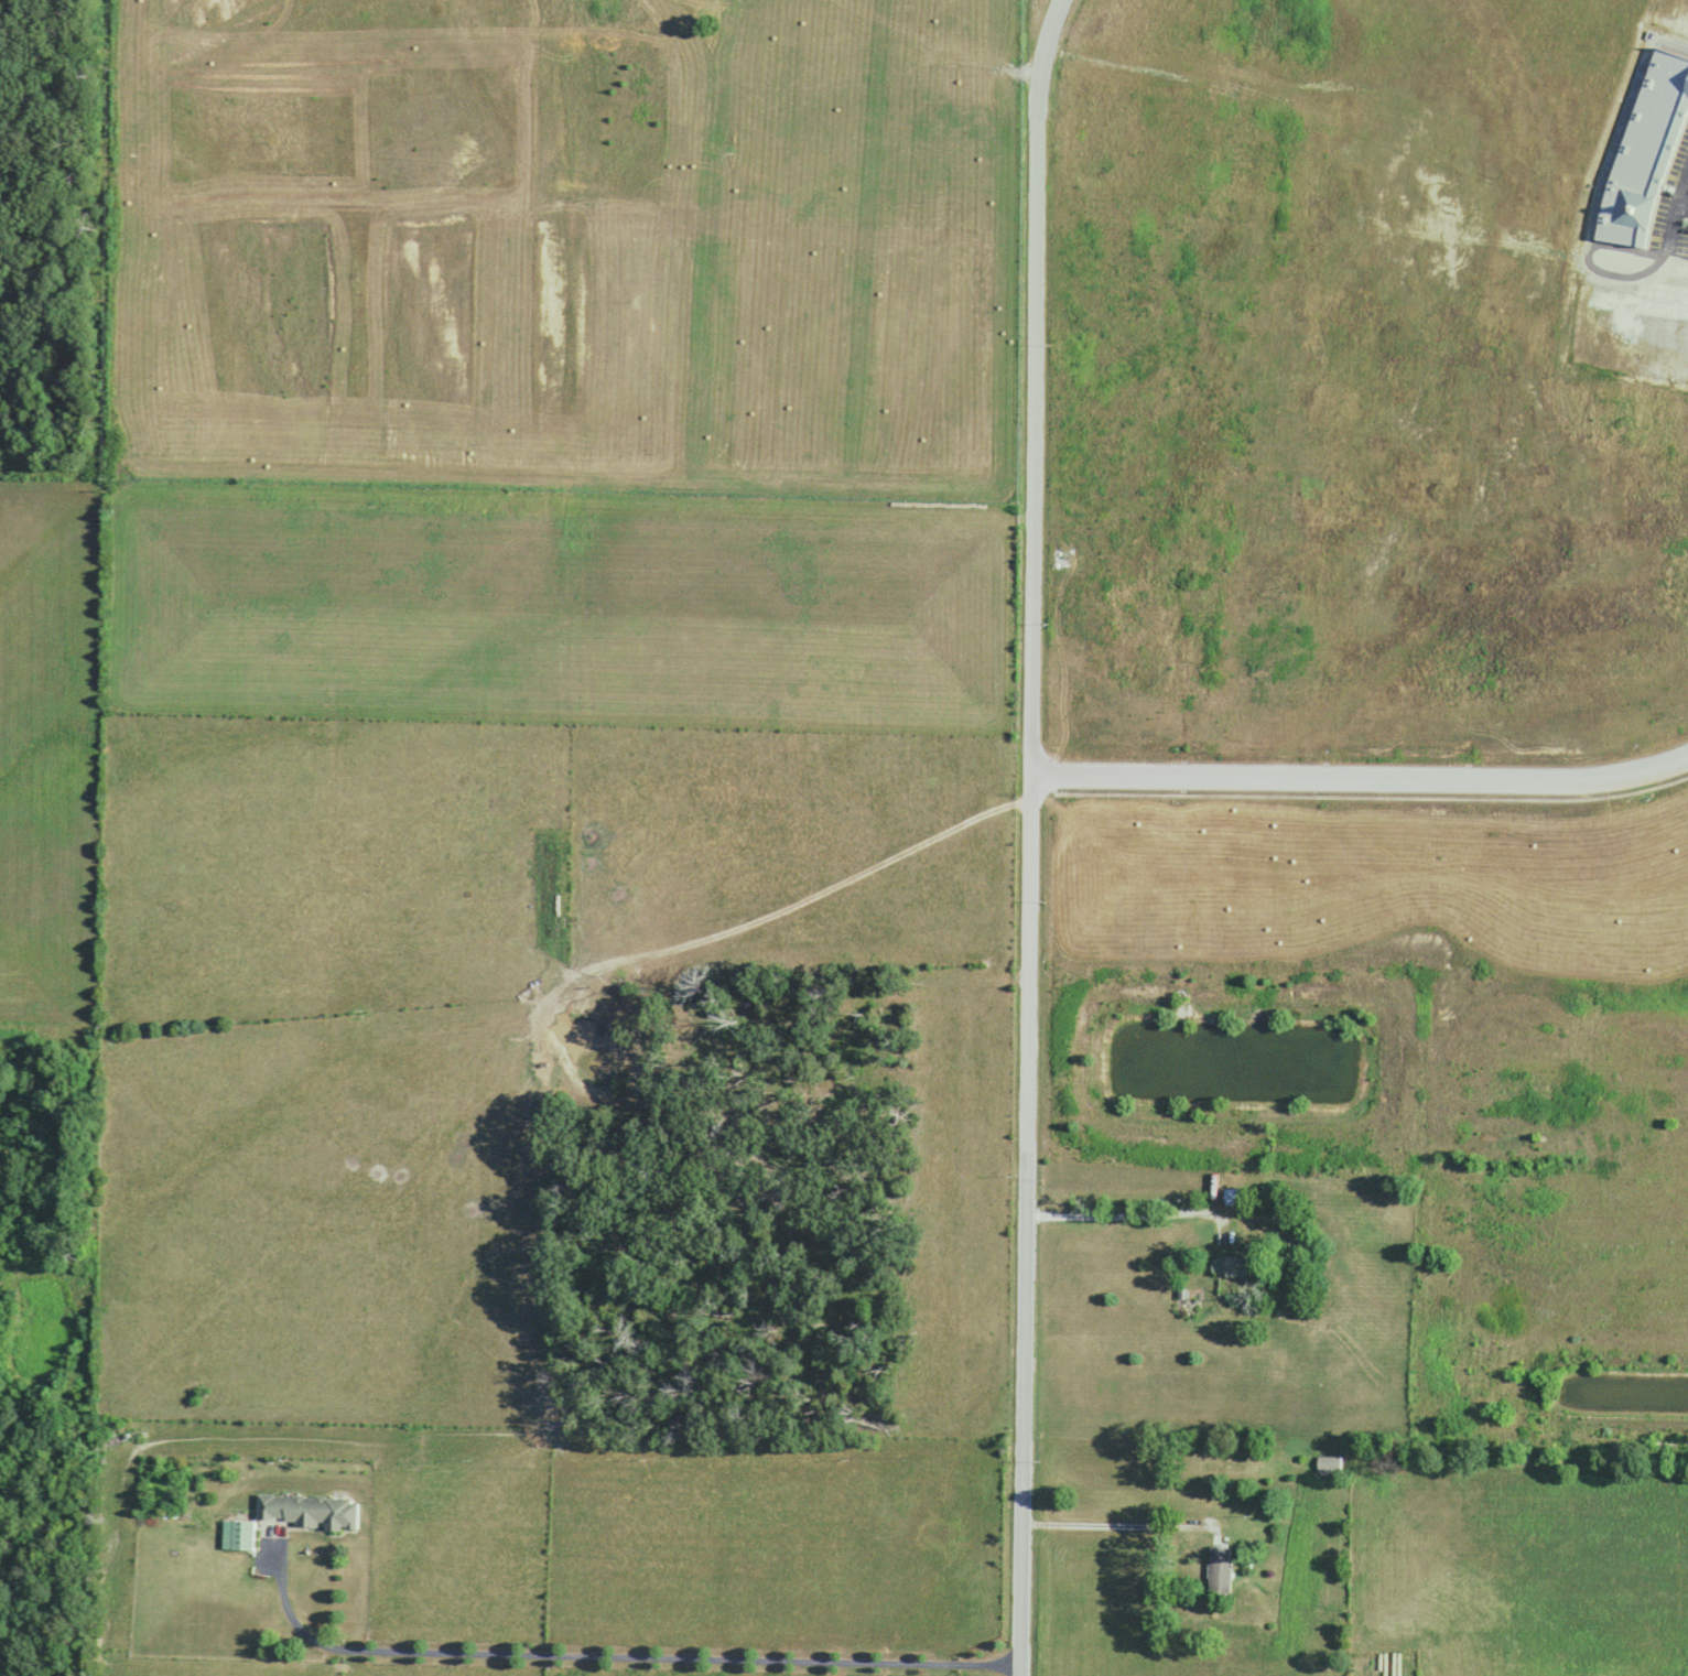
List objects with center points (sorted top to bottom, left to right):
road: (1047, 52)
building: (1646, 152)
road: (1682, 202)
road: (1675, 210)
road: (1361, 781)
road: (1029, 890)
building: (1232, 1197)
road: (1123, 1212)
building: (1227, 1264)
building: (1329, 1466)
building: (285, 1523)
road: (1114, 1523)
building: (1219, 1570)
road: (610, 1654)

